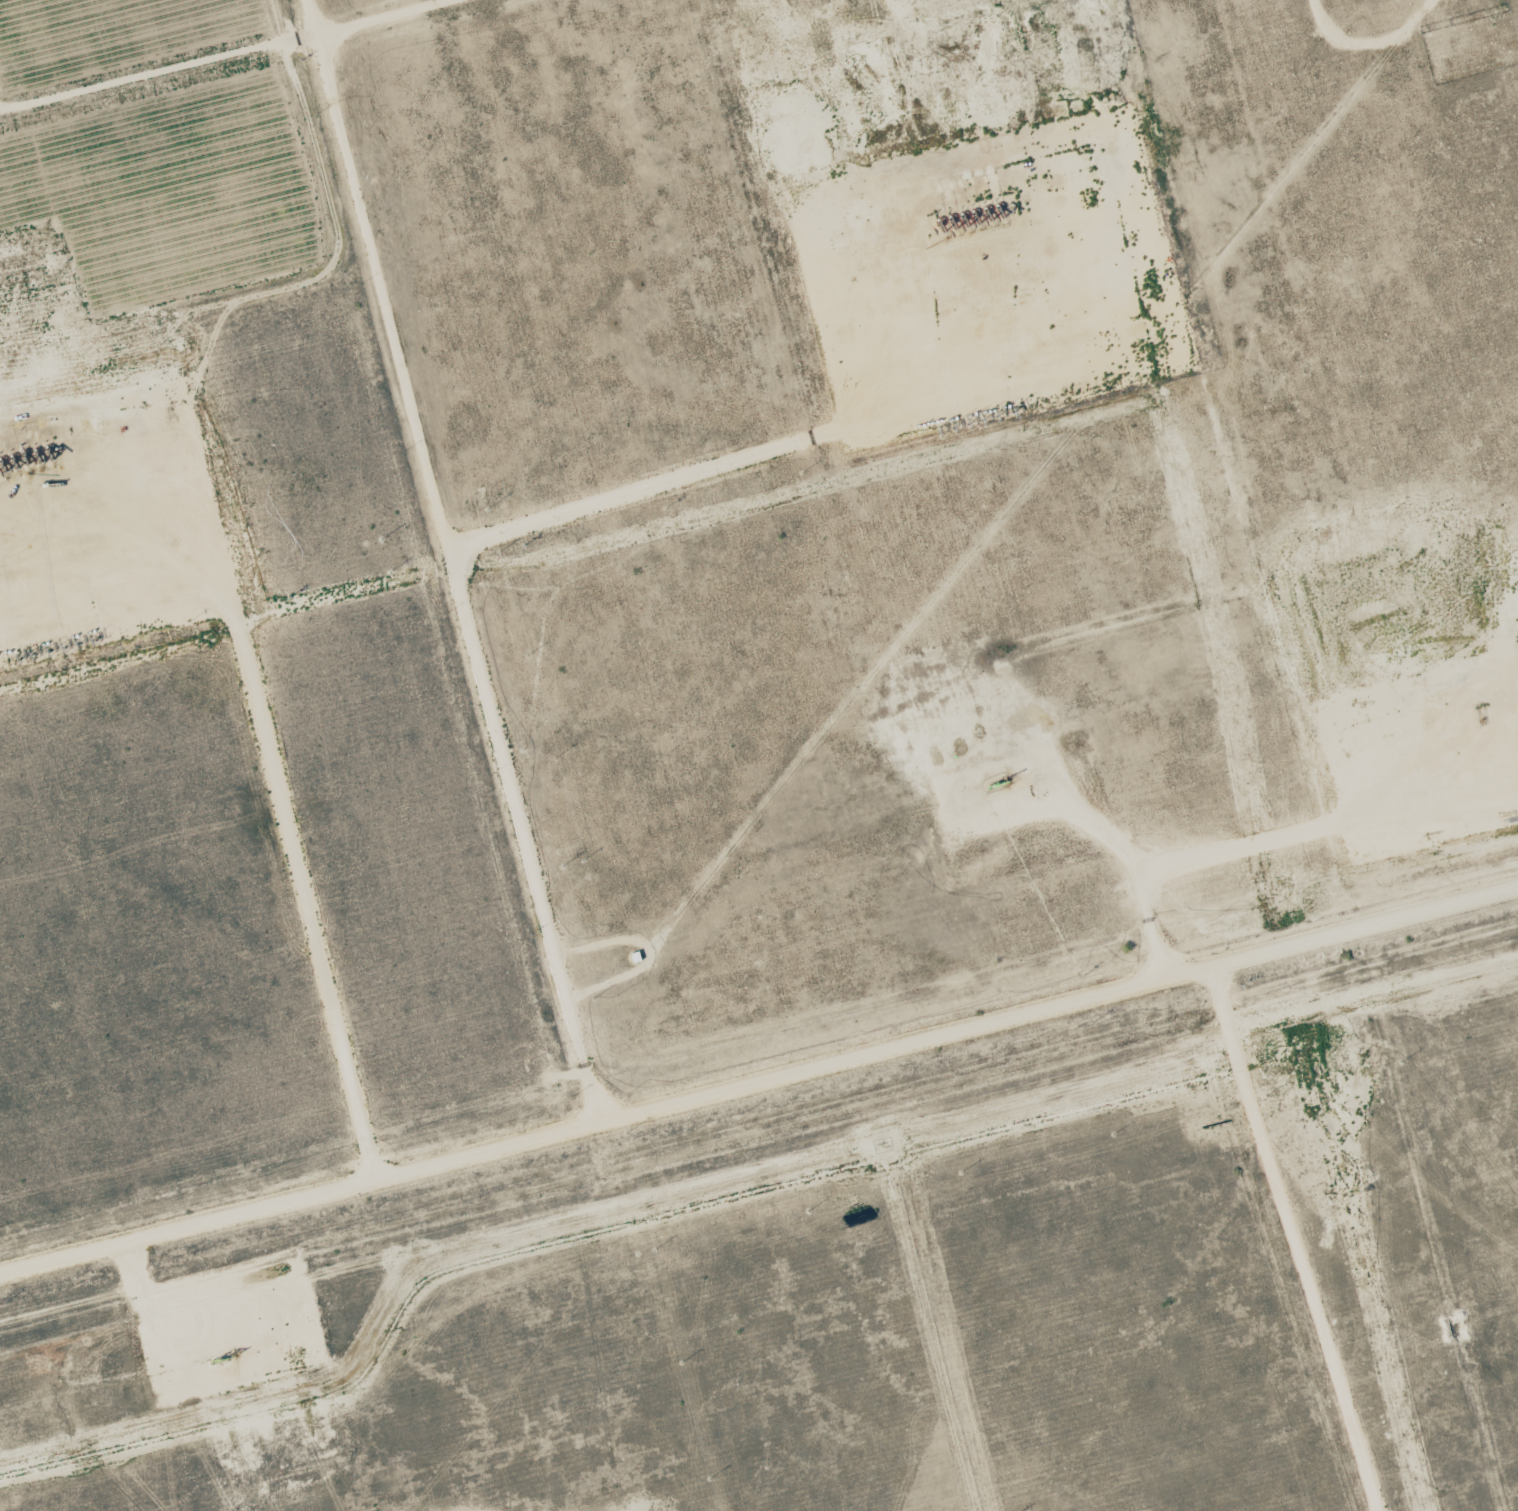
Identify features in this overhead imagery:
road: (1349, 931)
road: (590, 1120)

